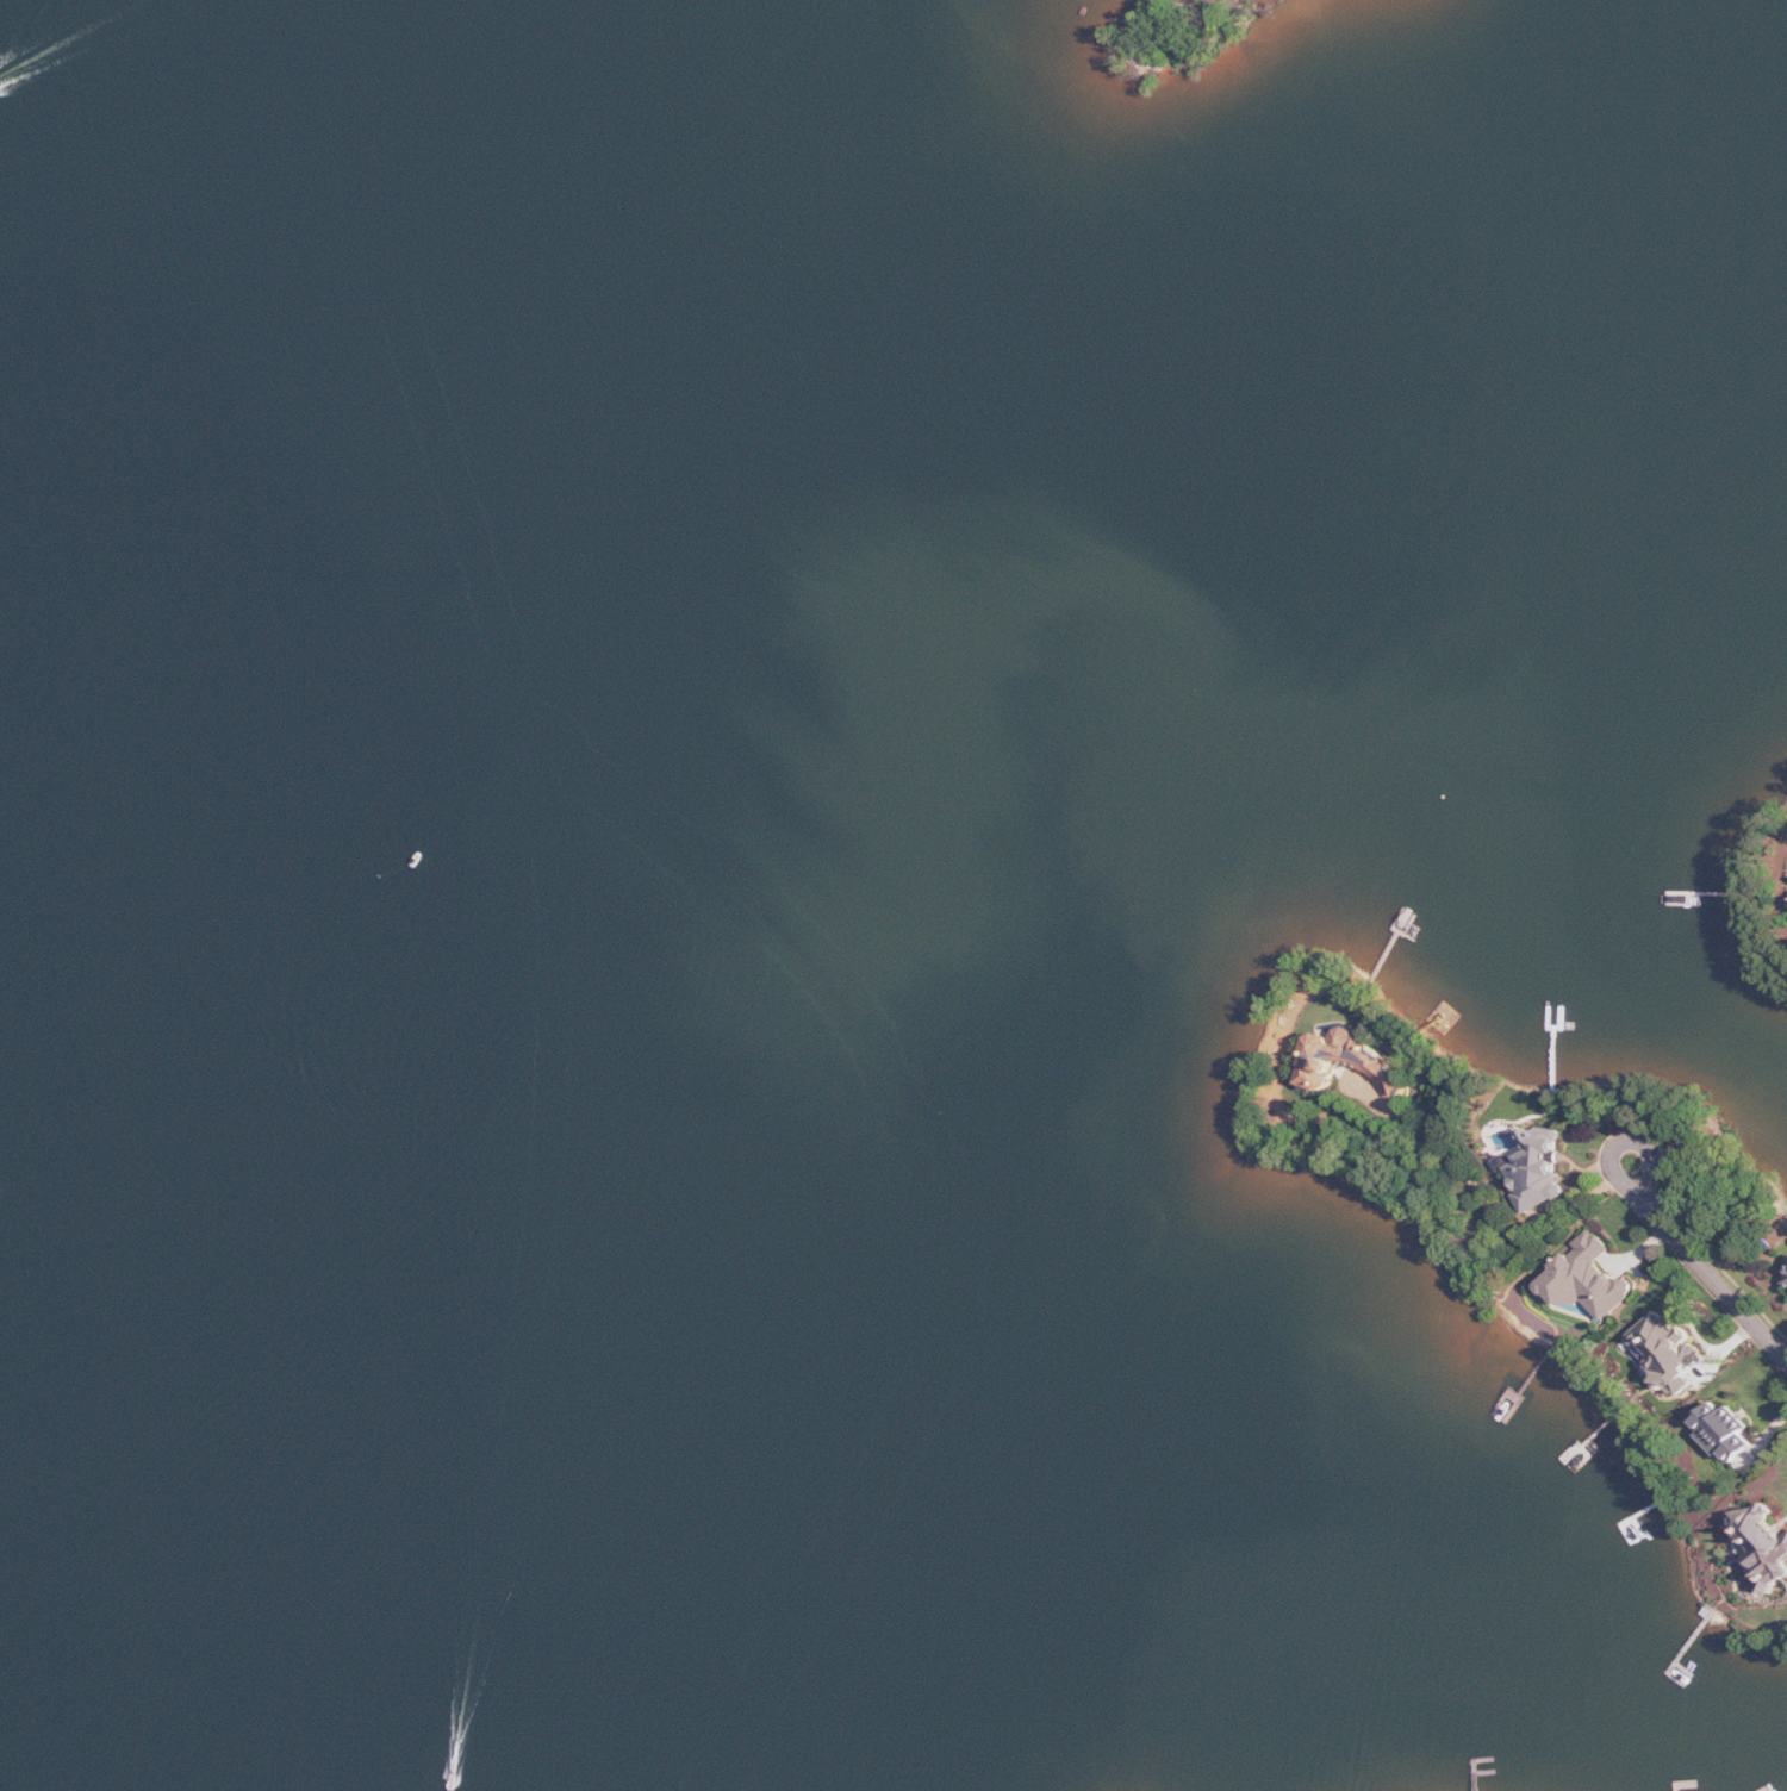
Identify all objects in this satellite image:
building: (1350, 1062)
road: (1633, 1140)
building: (1537, 1169)
road: (1498, 1216)
road: (1708, 1273)
building: (1590, 1279)
building: (1668, 1352)
building: (1726, 1433)
building: (1766, 1543)

